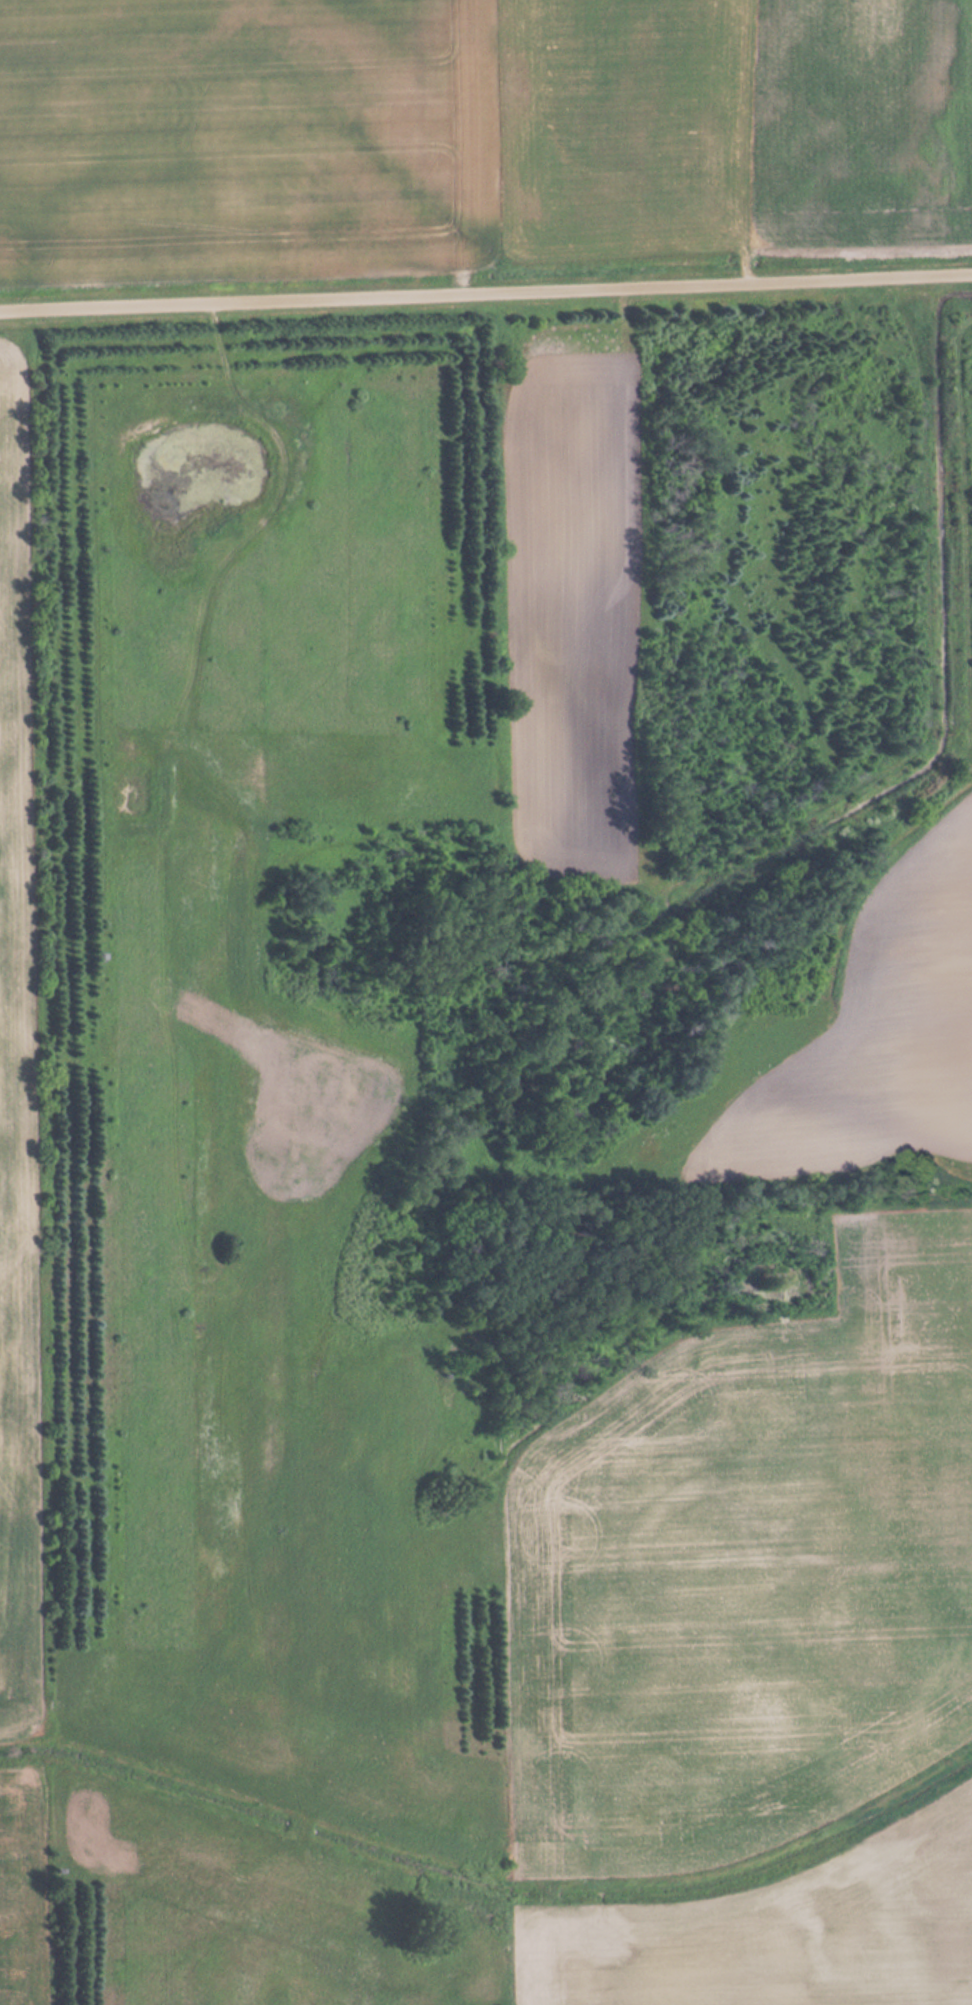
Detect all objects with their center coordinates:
road: (486, 295)

